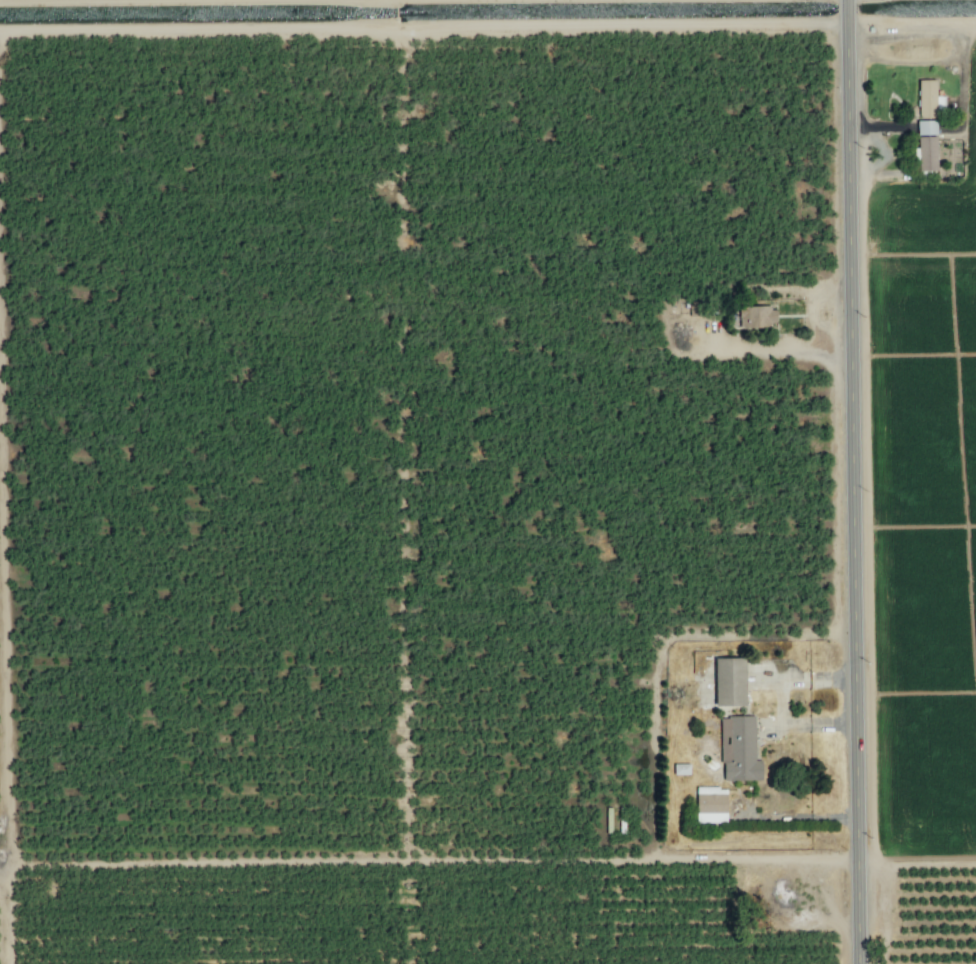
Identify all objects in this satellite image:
building: (927, 100)
building: (927, 147)
building: (698, 310)
building: (757, 319)
road: (854, 481)
building: (729, 683)
road: (781, 702)
building: (739, 751)
building: (711, 807)
road: (803, 815)

